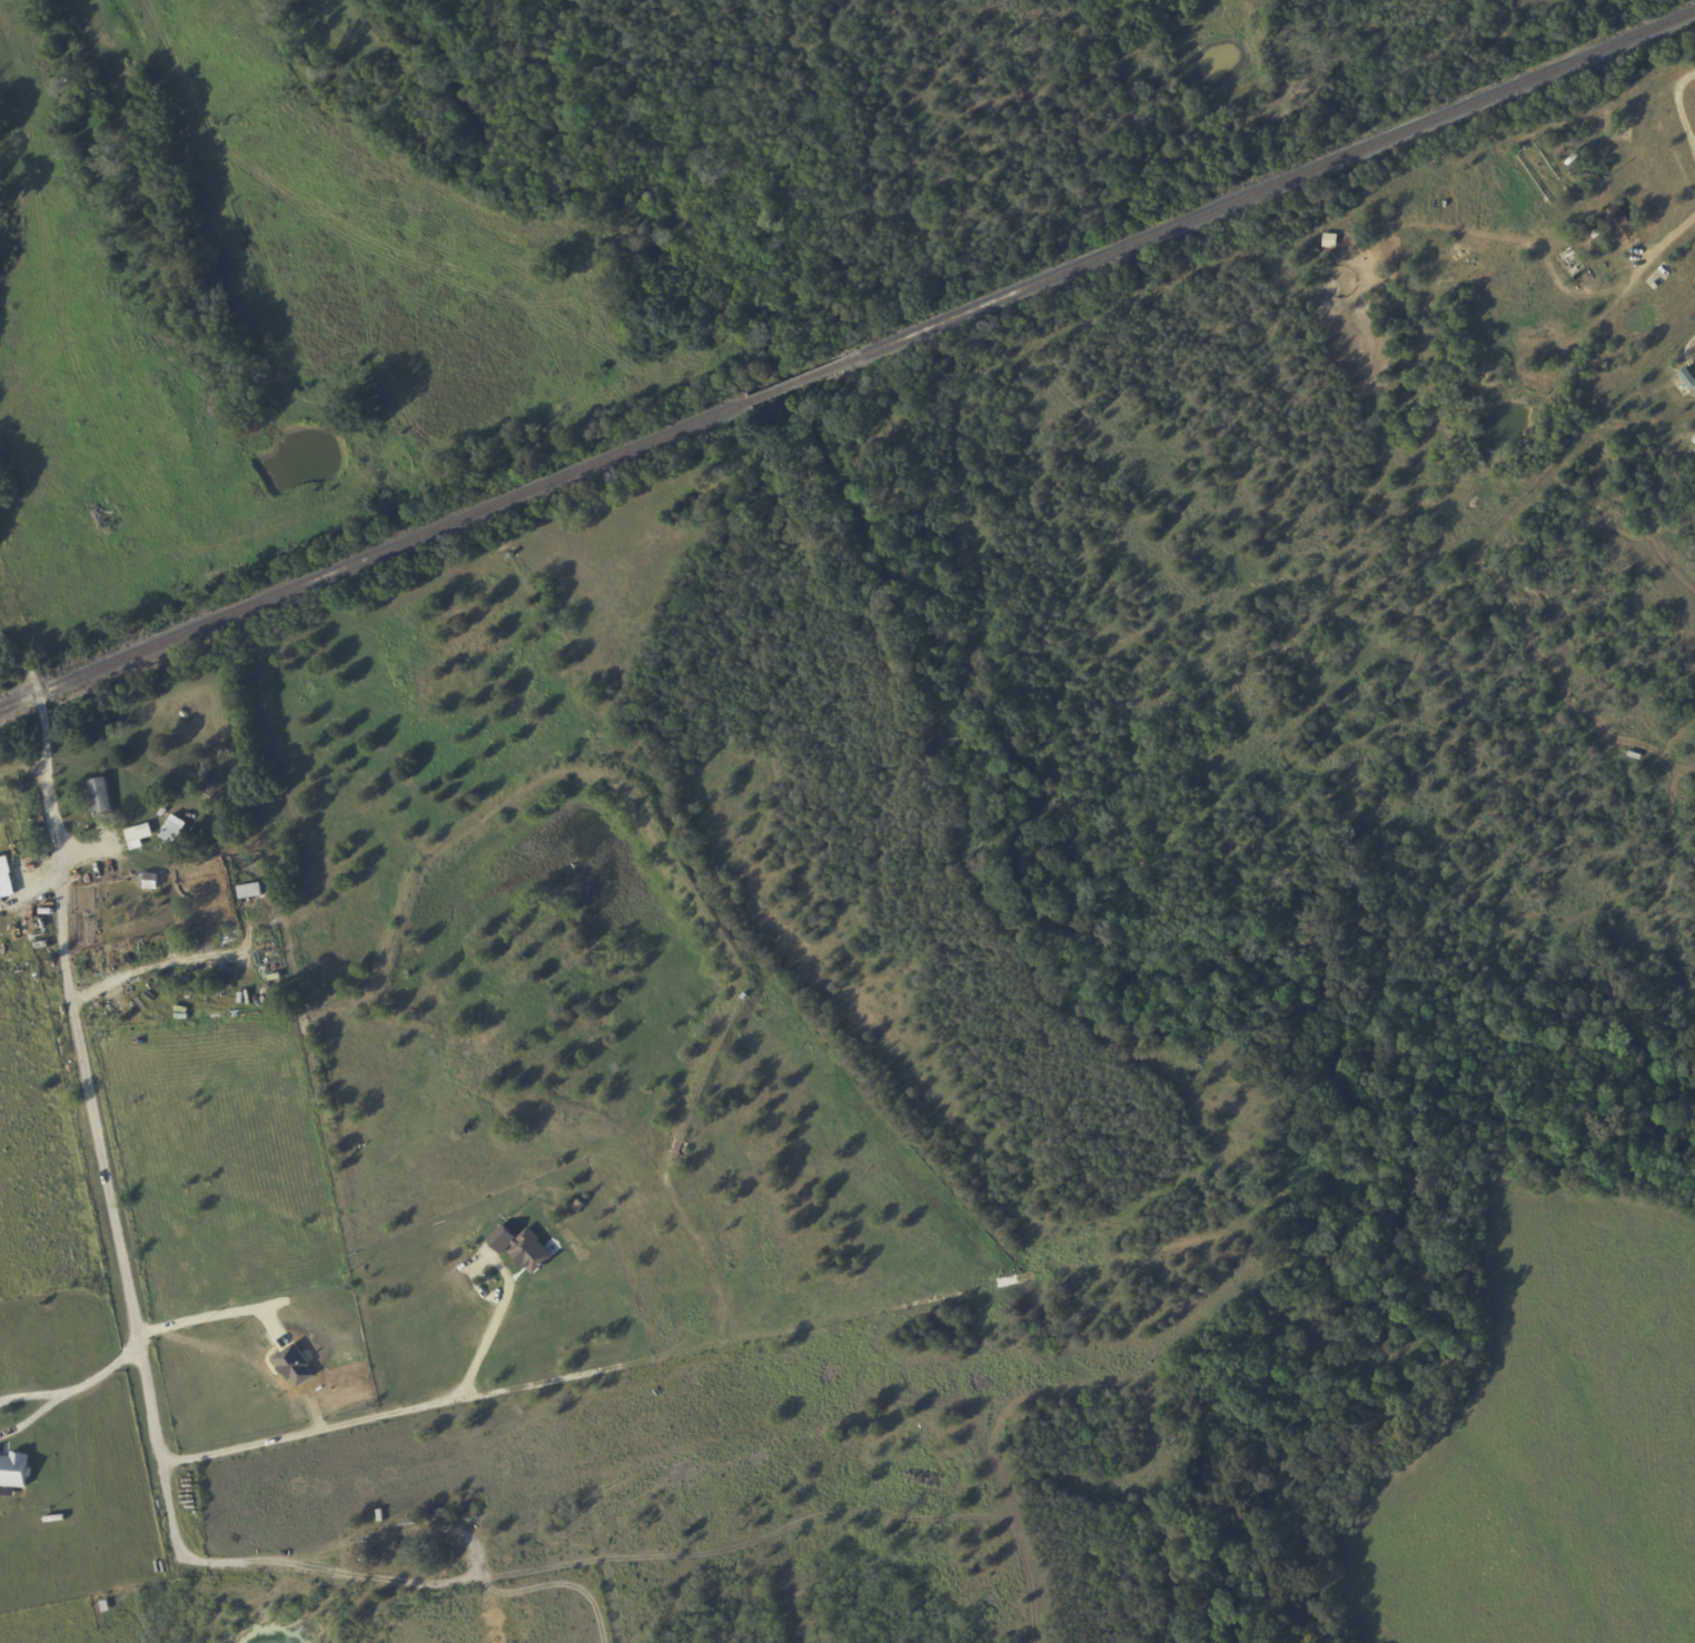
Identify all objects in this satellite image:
road: (1677, 109)
railway: (1269, 187)
building: (1618, 222)
road: (1666, 237)
road: (1686, 354)
building: (1687, 379)
railway: (795, 380)
building: (1694, 439)
railway: (373, 556)
road: (44, 795)
building: (99, 796)
building: (172, 829)
building: (138, 835)
building: (6, 880)
building: (248, 890)
road: (174, 942)
road: (139, 971)
road: (101, 1196)
building: (519, 1247)
road: (91, 1376)
road: (23, 1400)
road: (24, 1418)
road: (365, 1421)
building: (12, 1469)
road: (379, 1581)

